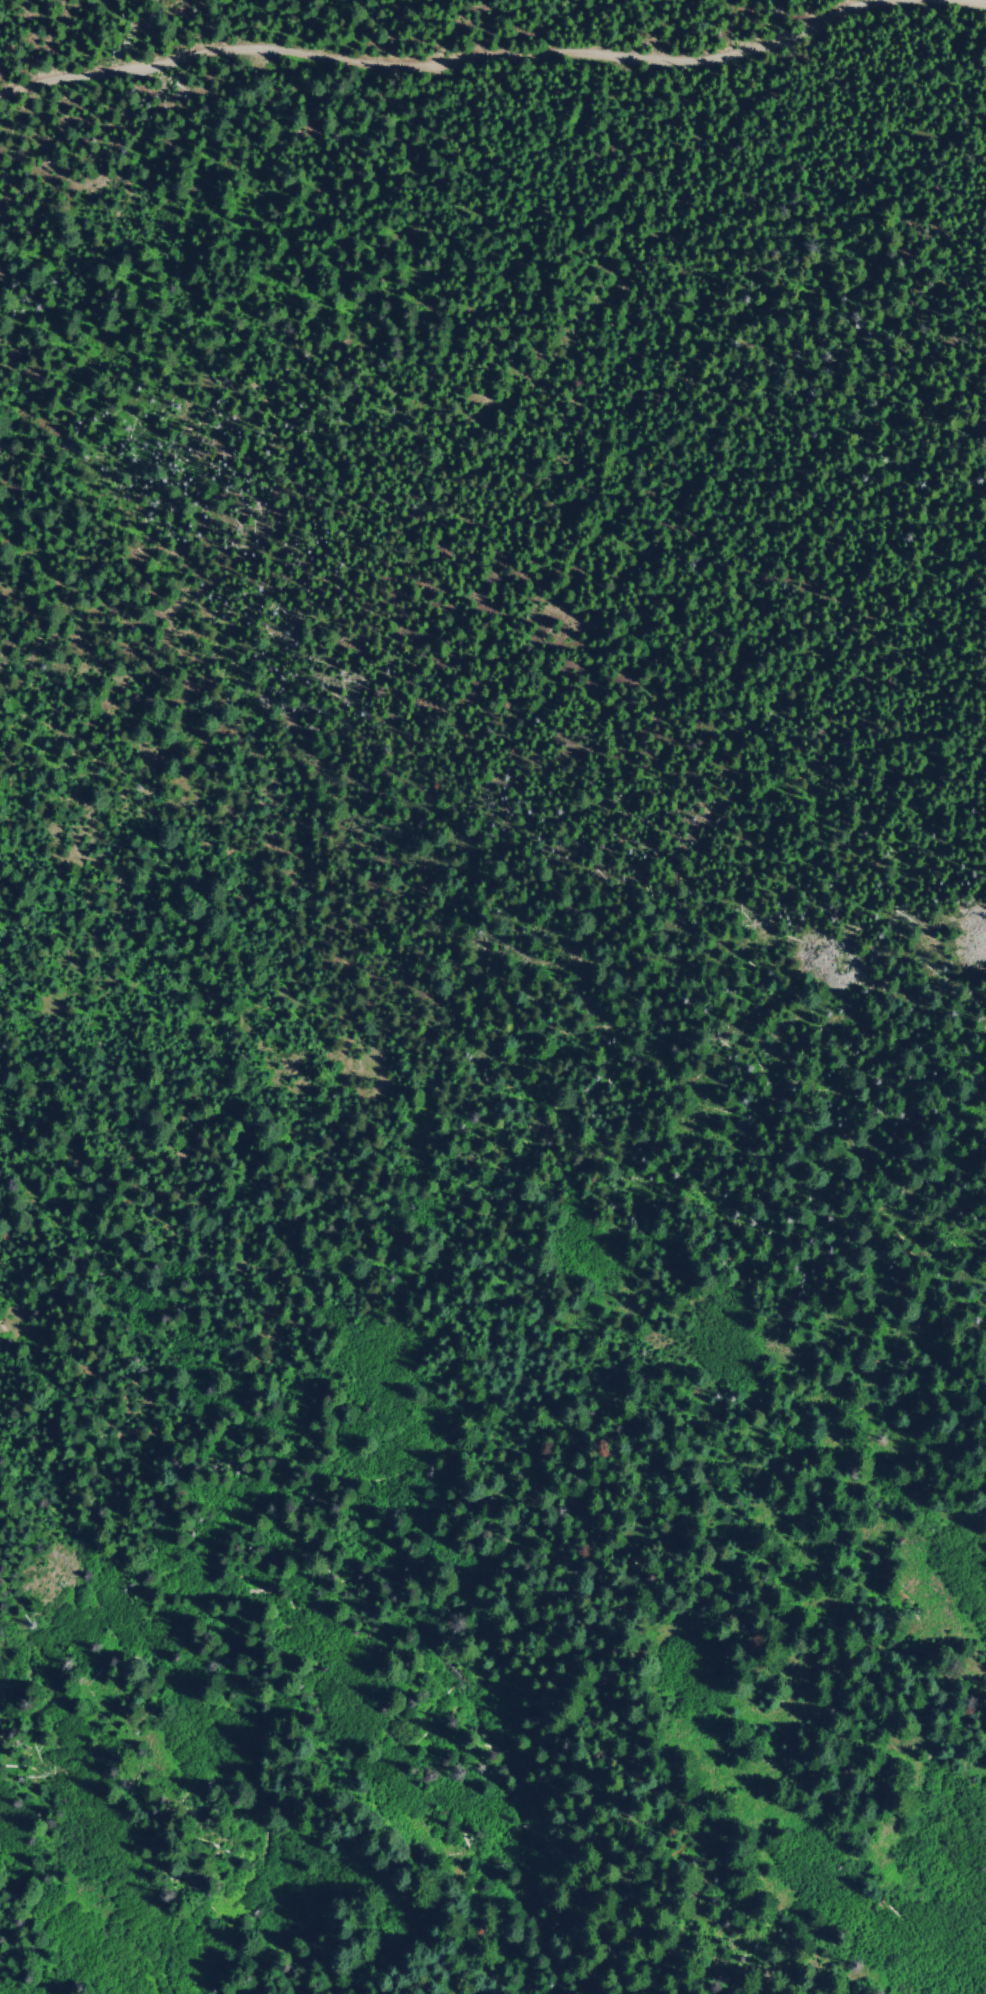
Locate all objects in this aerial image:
road: (457, 60)

